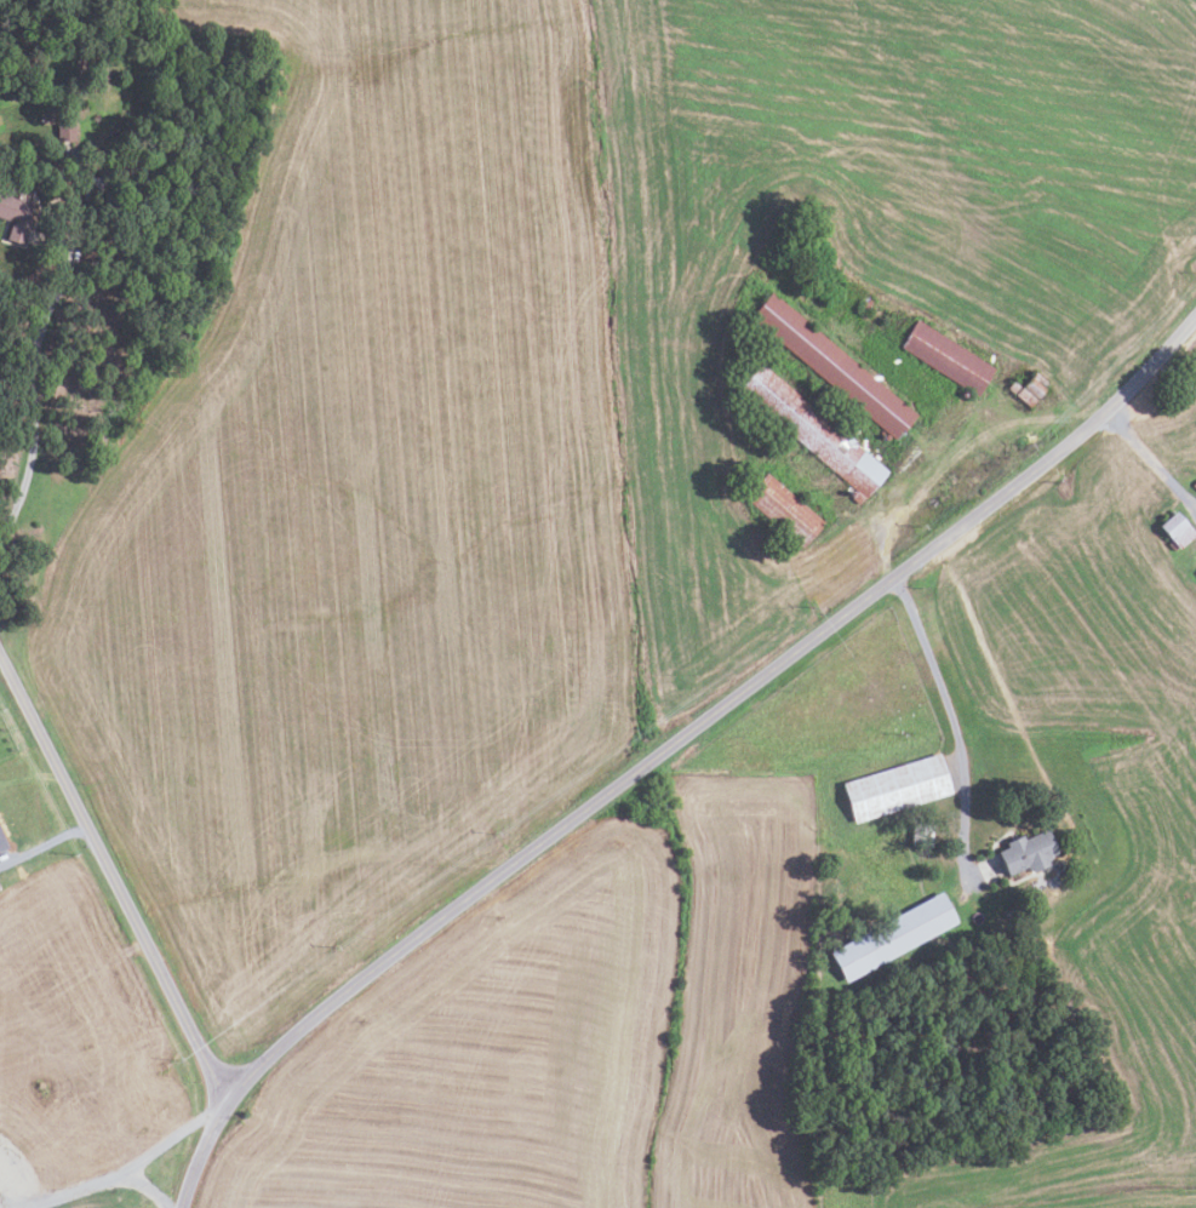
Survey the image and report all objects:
building: (64, 132)
building: (93, 188)
building: (16, 216)
crop: (870, 236)
building: (945, 359)
building: (831, 365)
road: (35, 371)
building: (1029, 389)
building: (811, 429)
road: (956, 456)
road: (1149, 458)
building: (1195, 486)
crop: (359, 511)
building: (785, 511)
building: (1177, 529)
building: (1194, 572)
road: (951, 715)
road: (668, 745)
building: (895, 789)
crop: (1162, 834)
building: (921, 835)
building: (2, 842)
road: (45, 843)
building: (1028, 852)
road: (114, 876)
building: (893, 937)
crop: (739, 992)
crop: (78, 1030)
crop: (486, 1054)
road: (171, 1135)
road: (103, 1183)

